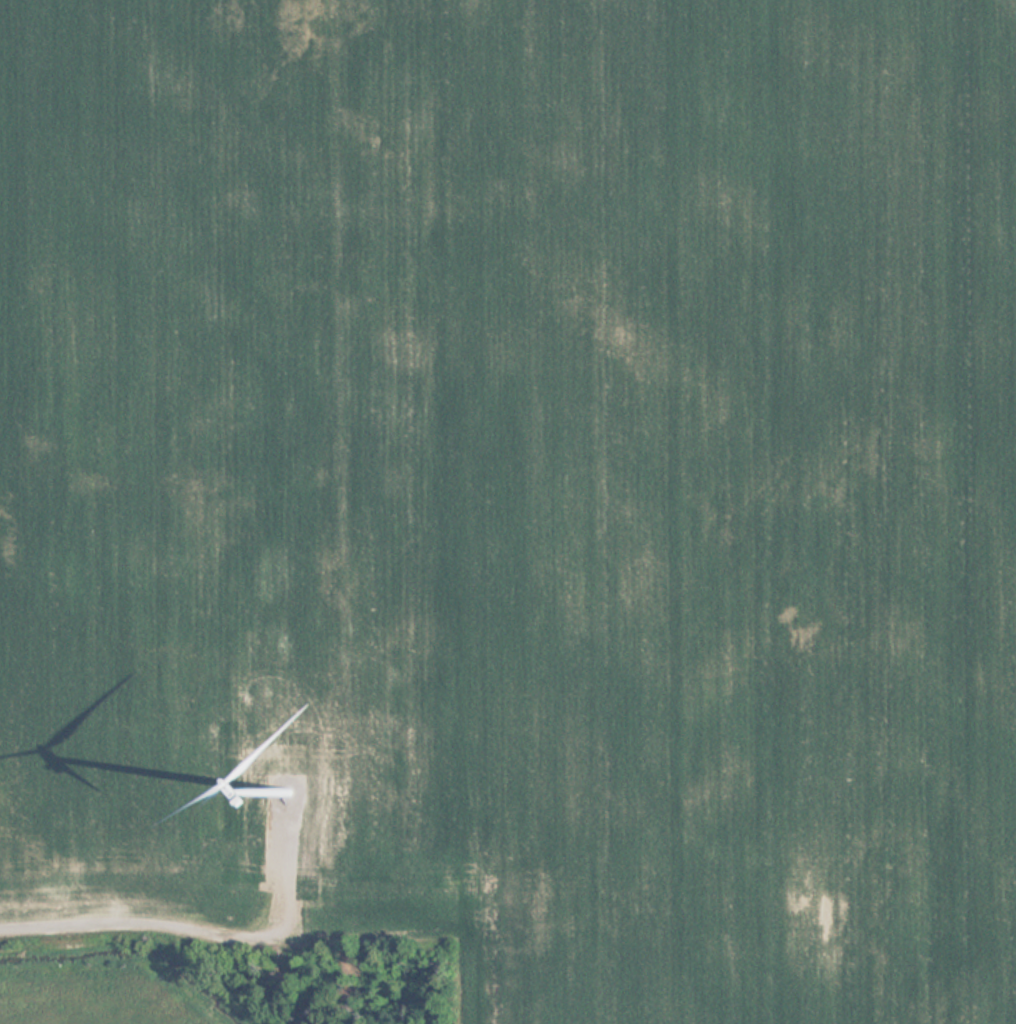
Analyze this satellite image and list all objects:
wind turbine: (293, 799)
road: (196, 925)

